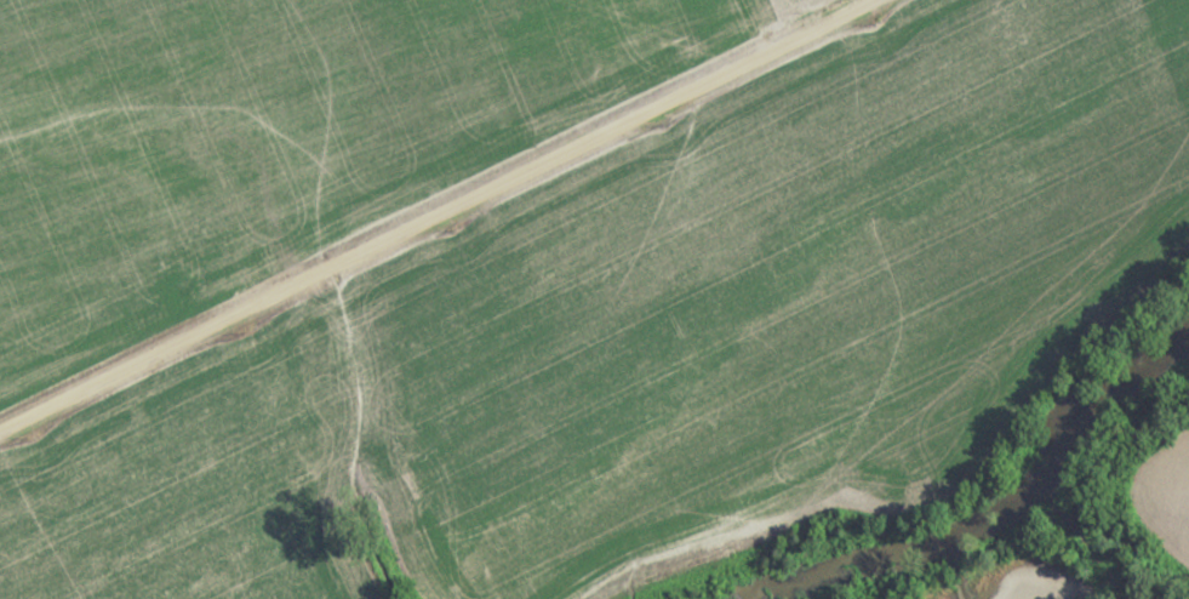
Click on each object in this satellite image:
road: (434, 213)

